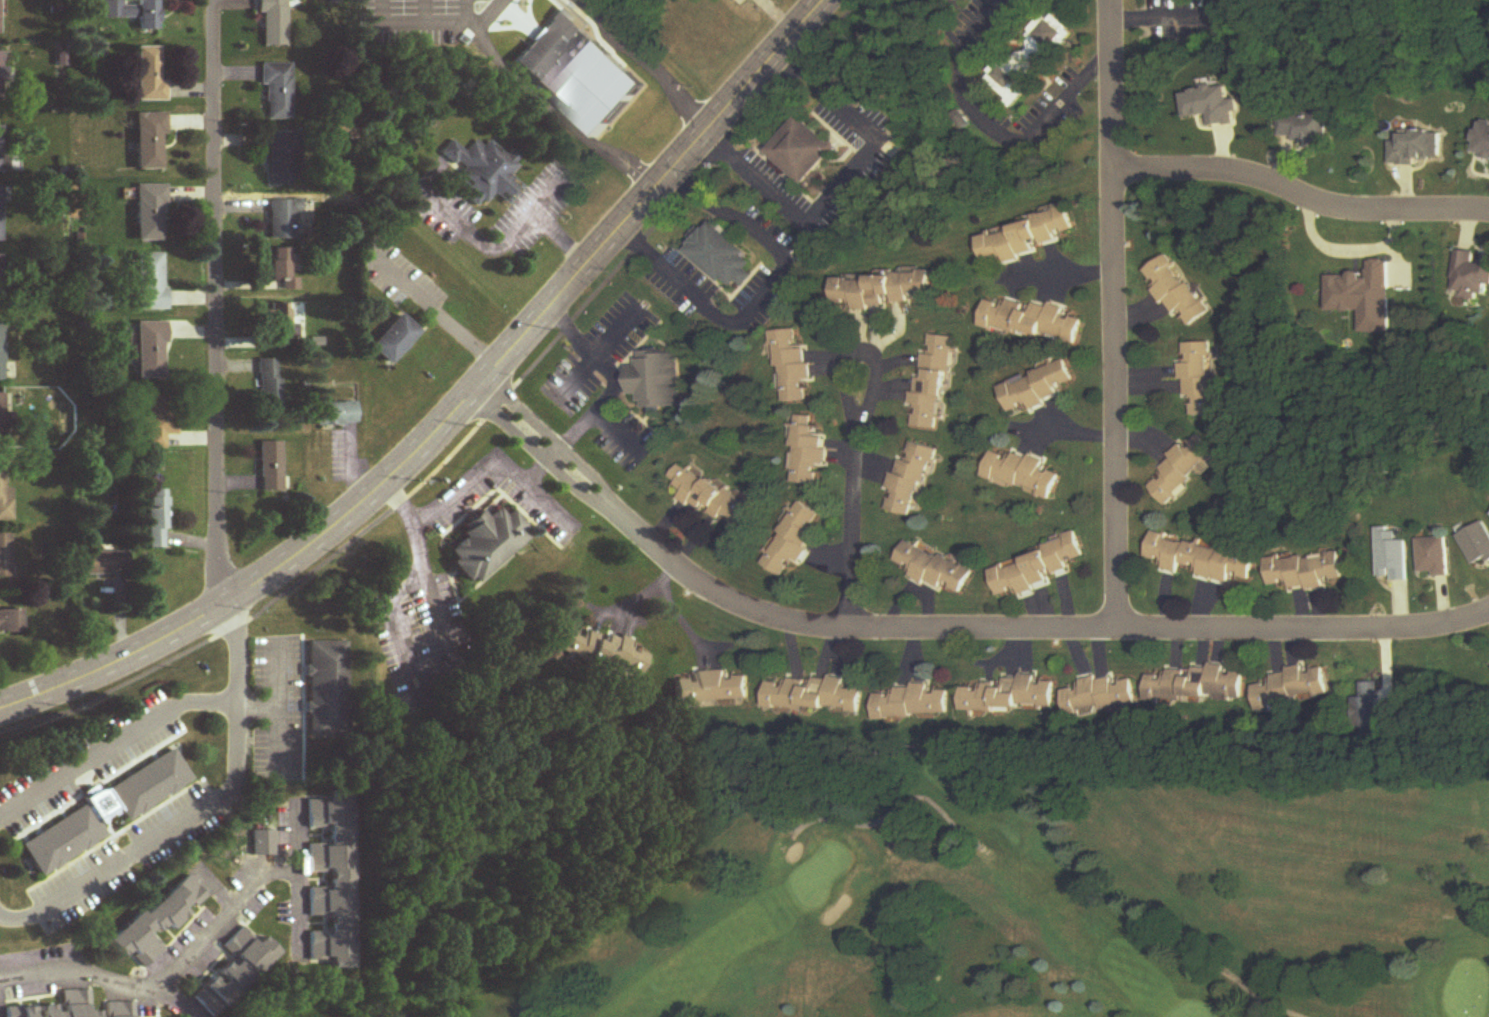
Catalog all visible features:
building: (0, 0)
building: (953, 0)
building: (147, 15)
building: (272, 23)
building: (552, 44)
building: (1030, 58)
building: (1, 70)
building: (149, 76)
road: (565, 77)
building: (278, 90)
road: (993, 126)
building: (1306, 128)
building: (1483, 140)
building: (150, 142)
building: (1419, 148)
building: (2, 150)
building: (805, 152)
building: (284, 159)
building: (485, 171)
road: (846, 178)
road: (1300, 197)
building: (151, 213)
building: (1, 215)
building: (285, 220)
road: (559, 235)
building: (1028, 237)
road: (1342, 243)
road: (495, 245)
building: (723, 258)
building: (280, 265)
road: (1066, 272)
building: (1470, 277)
building: (0, 278)
building: (151, 281)
building: (882, 290)
building: (1179, 293)
road: (765, 295)
building: (1364, 297)
road: (214, 302)
road: (432, 307)
road: (1114, 315)
building: (1032, 321)
building: (283, 328)
building: (394, 340)
road: (598, 348)
building: (151, 351)
building: (2, 353)
building: (792, 366)
road: (613, 377)
building: (1200, 380)
building: (654, 381)
building: (269, 384)
building: (932, 386)
building: (1034, 388)
road: (454, 407)
building: (335, 414)
building: (1, 415)
building: (158, 423)
road: (1063, 430)
building: (807, 453)
building: (271, 466)
building: (1181, 469)
building: (1020, 474)
building: (908, 481)
road: (465, 483)
road: (852, 492)
building: (5, 494)
building: (709, 498)
building: (156, 520)
building: (792, 539)
building: (488, 543)
building: (1478, 544)
building: (1393, 555)
building: (5, 557)
building: (1435, 557)
building: (1202, 559)
building: (105, 563)
building: (932, 568)
building: (1030, 568)
building: (1306, 571)
road: (391, 602)
road: (672, 612)
road: (439, 613)
building: (11, 622)
road: (940, 632)
building: (603, 652)
road: (277, 677)
building: (1196, 684)
building: (711, 688)
building: (1295, 688)
building: (327, 690)
building: (814, 696)
building: (1009, 696)
building: (1100, 696)
road: (237, 698)
road: (205, 700)
building: (910, 703)
building: (1366, 712)
road: (278, 718)
road: (86, 759)
building: (149, 785)
building: (61, 839)
road: (298, 839)
building: (263, 843)
road: (120, 861)
building: (333, 879)
park: (934, 882)
road: (298, 888)
road: (9, 920)
building: (158, 923)
building: (236, 972)
road: (143, 983)
building: (74, 1008)

